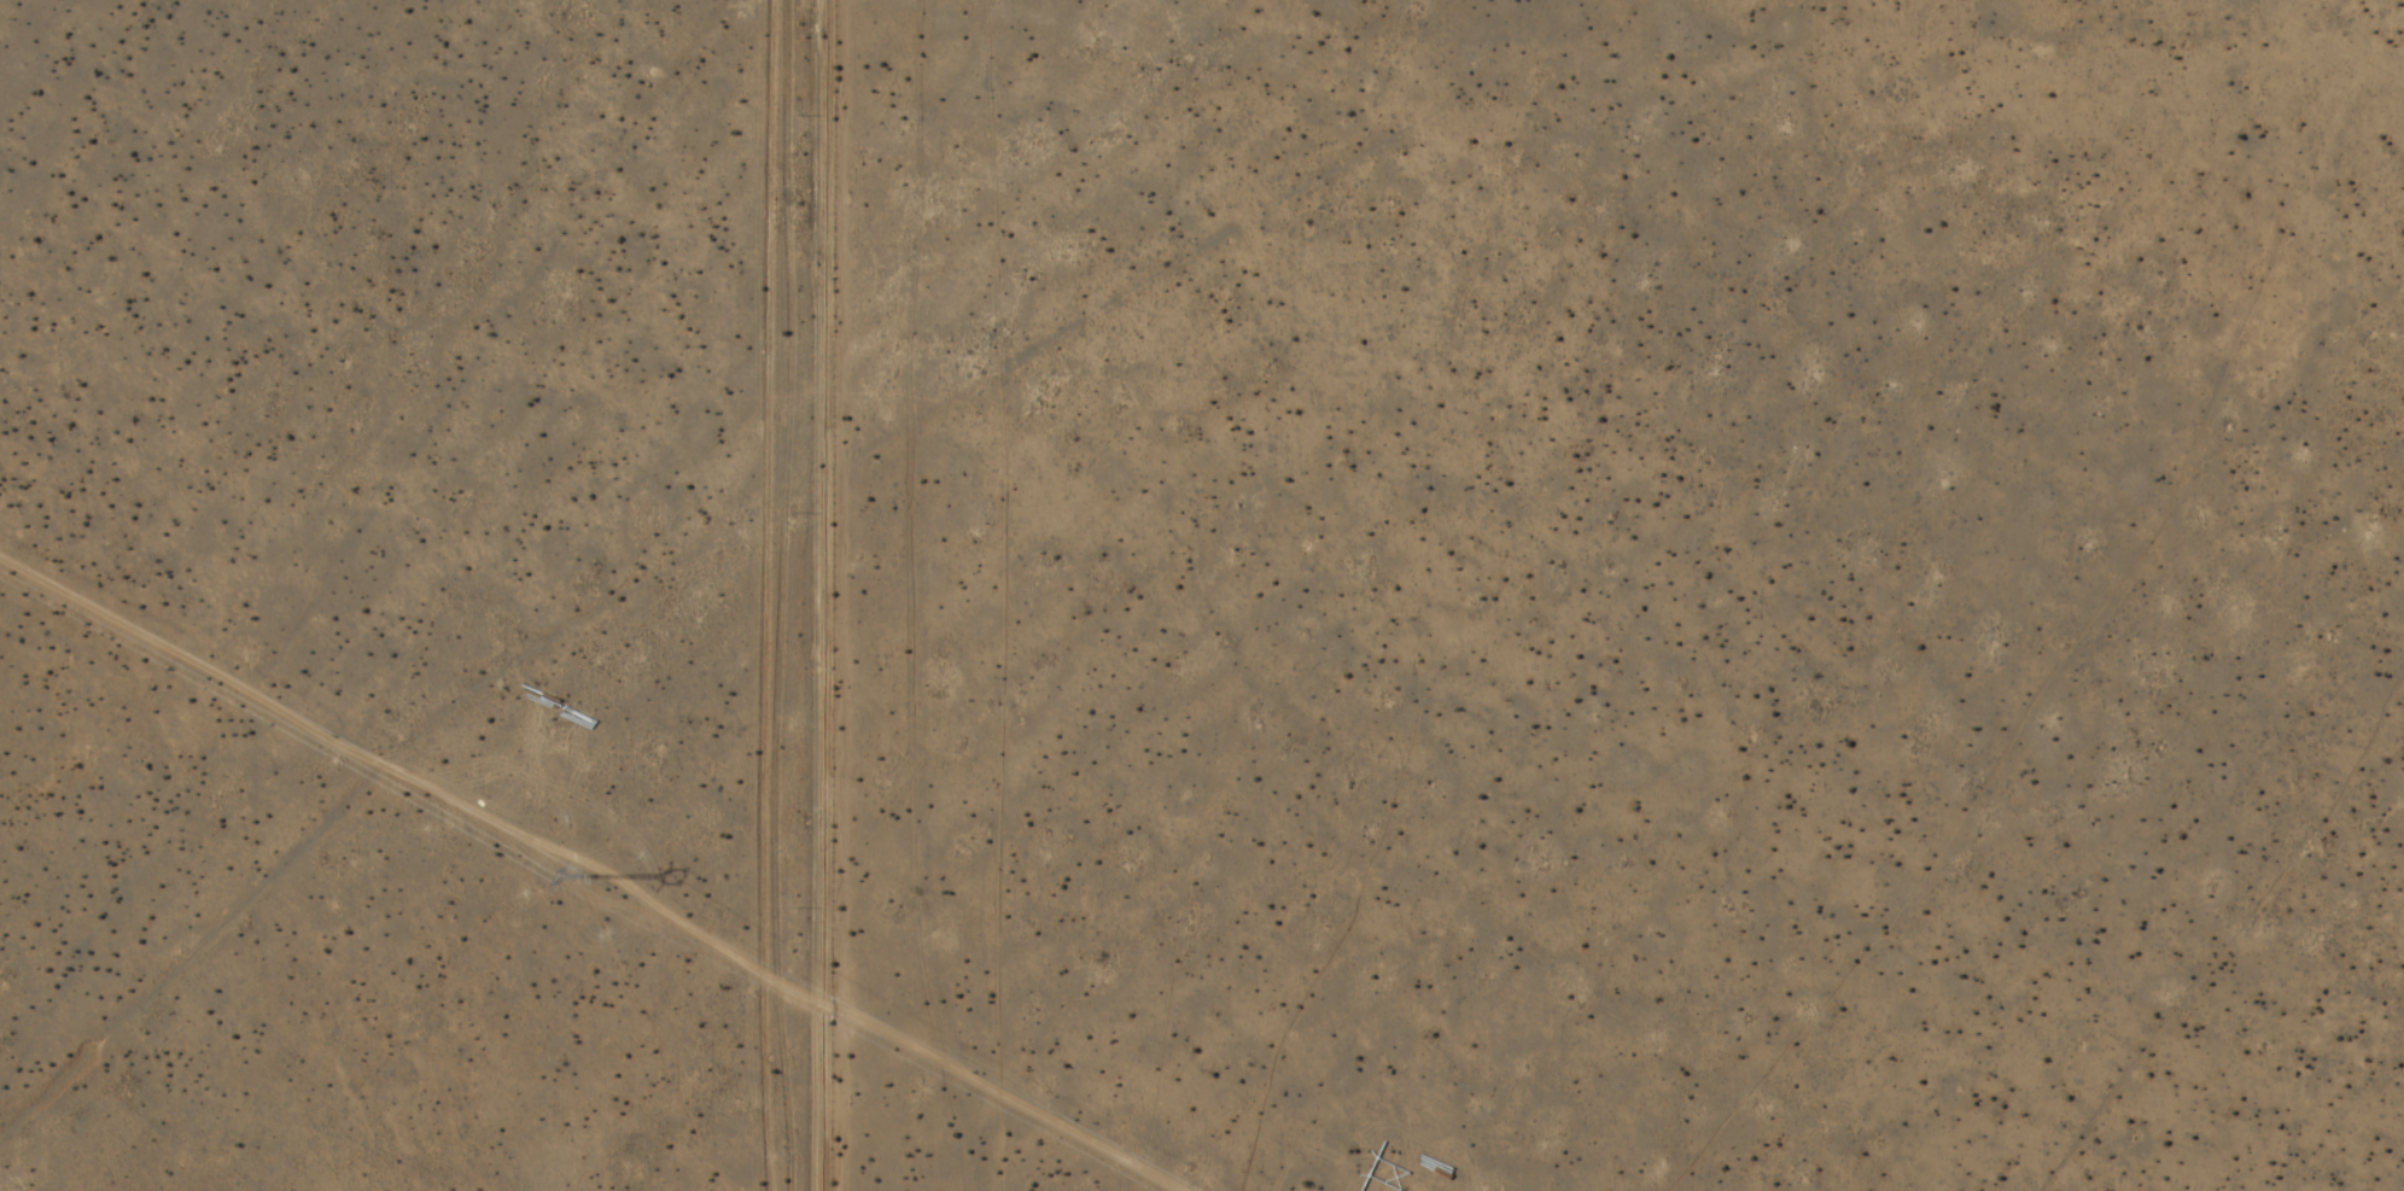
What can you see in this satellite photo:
road: (804, 595)
power tower: (582, 878)

